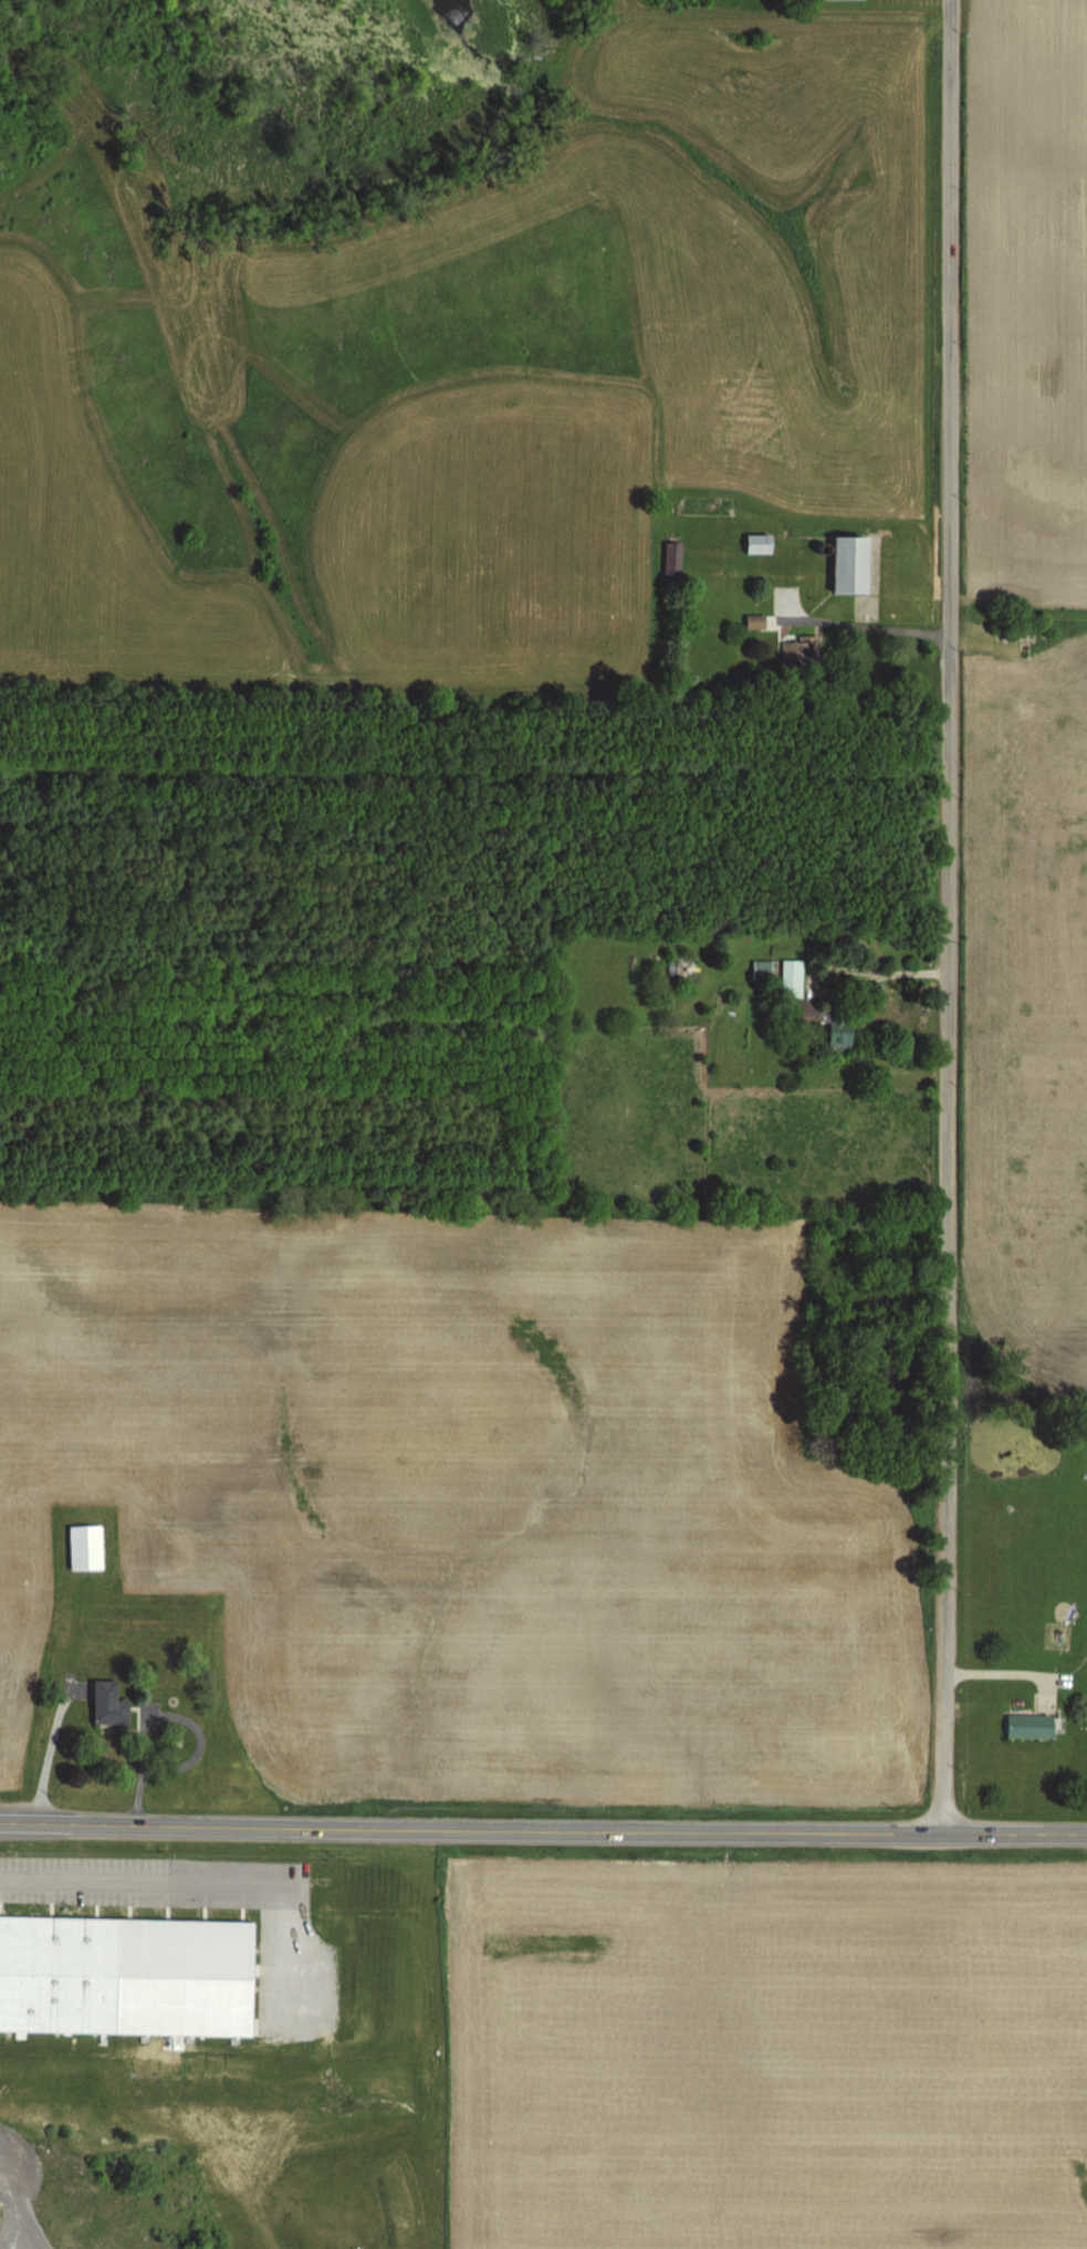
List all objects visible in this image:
building: (751, 543)
building: (667, 556)
building: (838, 563)
road: (871, 626)
building: (795, 650)
road: (942, 916)
building: (757, 969)
building: (787, 976)
road: (872, 984)
building: (802, 1012)
building: (832, 1029)
building: (79, 1546)
road: (1008, 1671)
building: (104, 1703)
building: (1023, 1725)
road: (543, 1828)
road: (126, 1880)
building: (58, 1974)

